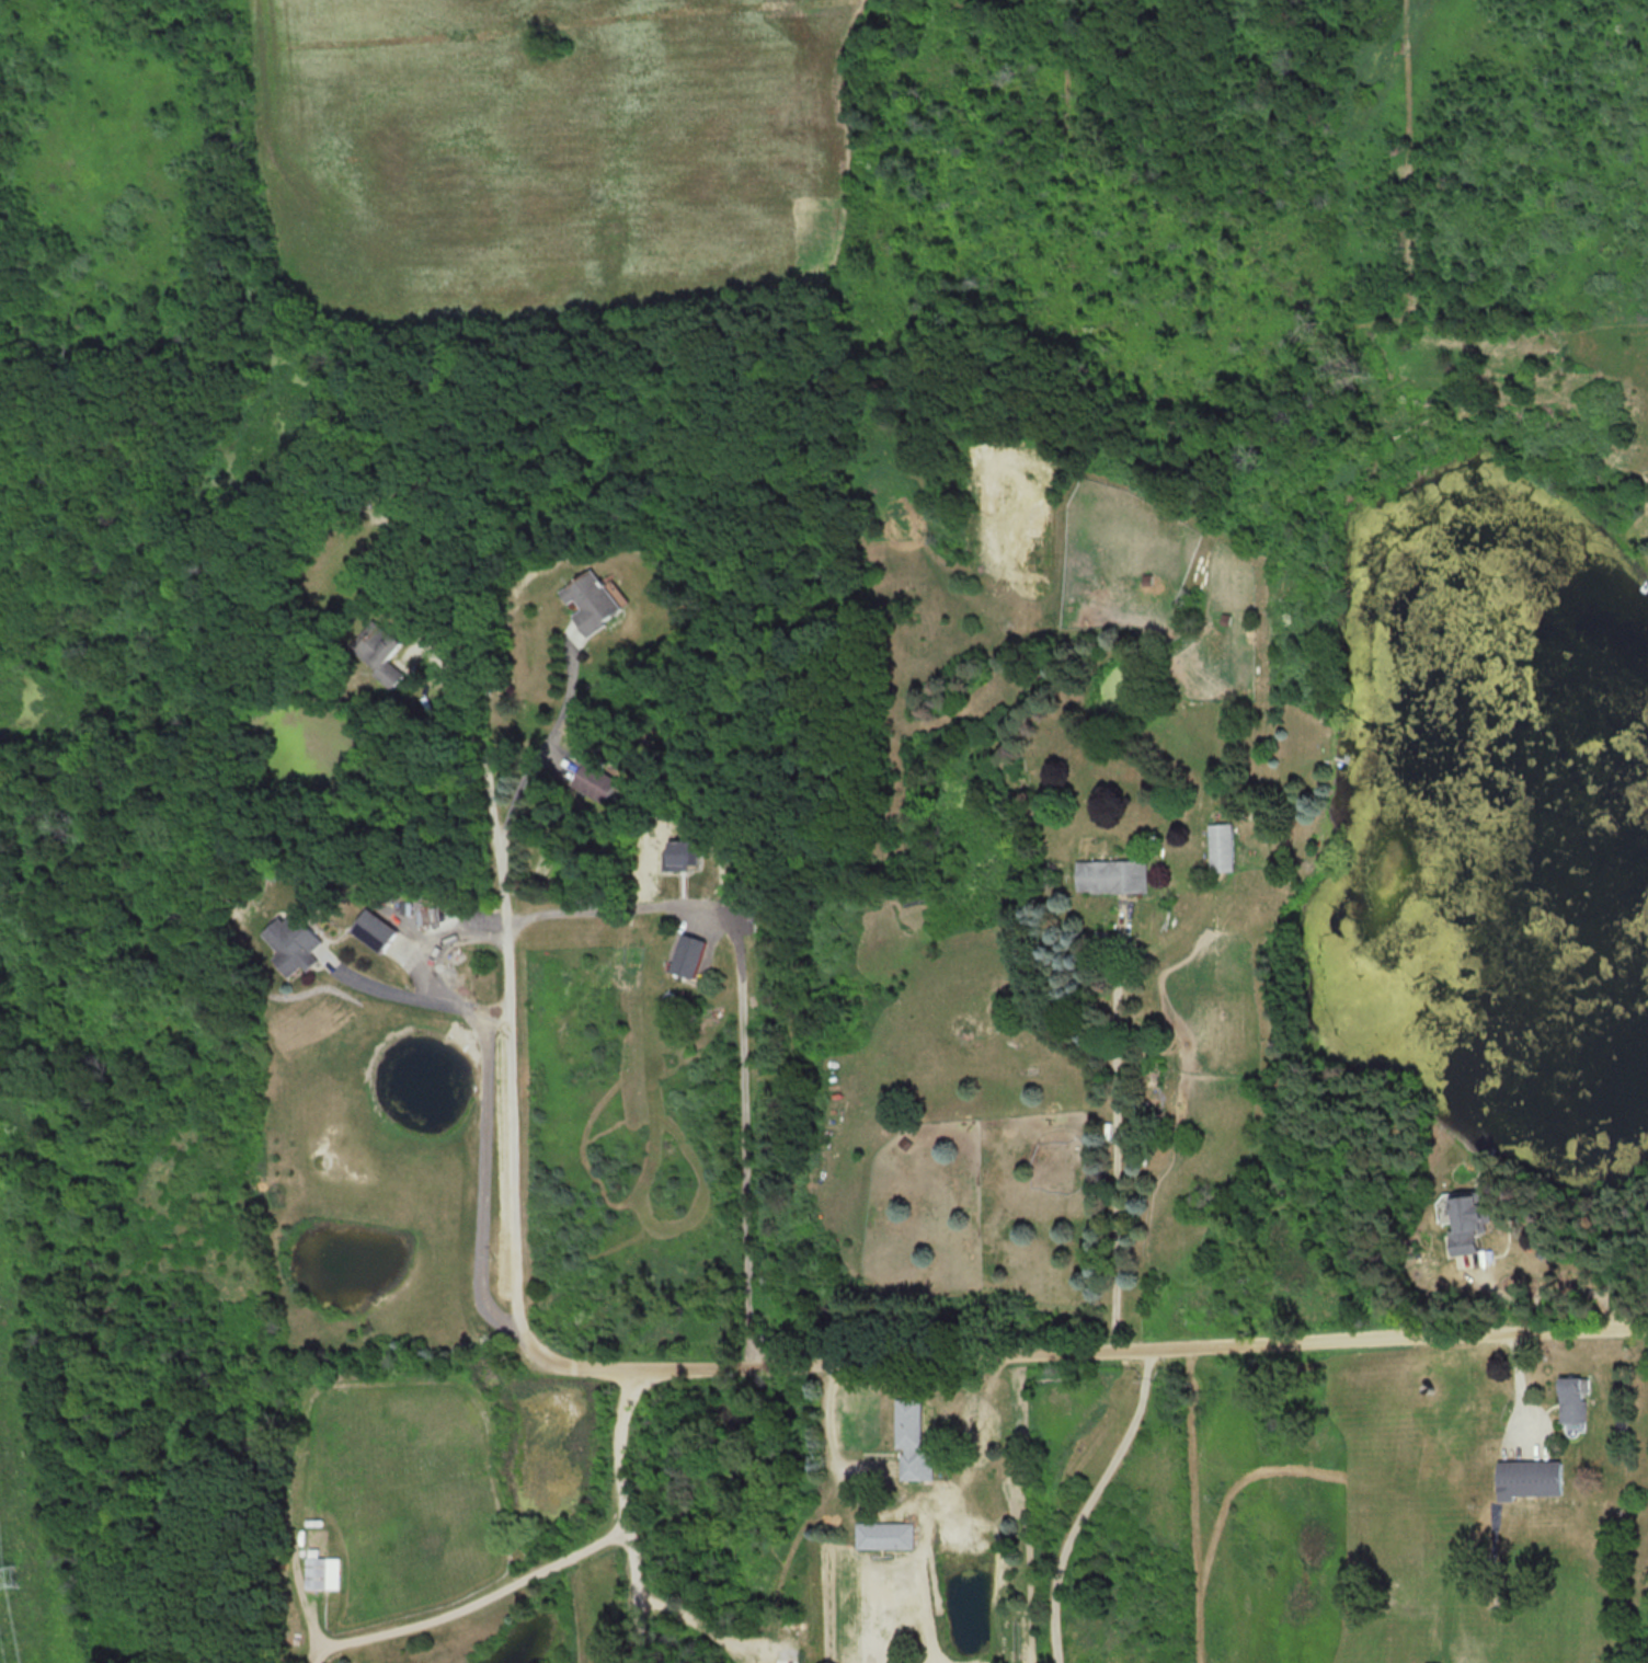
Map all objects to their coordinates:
building: (594, 600)
building: (1071, 622)
building: (378, 651)
road: (546, 738)
road: (487, 744)
building: (594, 782)
building: (1221, 847)
building: (686, 852)
building: (1110, 876)
building: (374, 930)
building: (294, 942)
building: (688, 955)
road: (422, 1001)
park: (123, 1025)
road: (731, 1027)
road: (1114, 1132)
road: (502, 1150)
road: (476, 1177)
building: (1470, 1224)
road: (1547, 1296)
road: (1145, 1344)
building: (1576, 1399)
building: (913, 1443)
building: (1533, 1479)
road: (1090, 1500)
road: (633, 1513)
building: (323, 1573)
power tower: (4, 1576)
road: (471, 1599)
road: (712, 1635)

